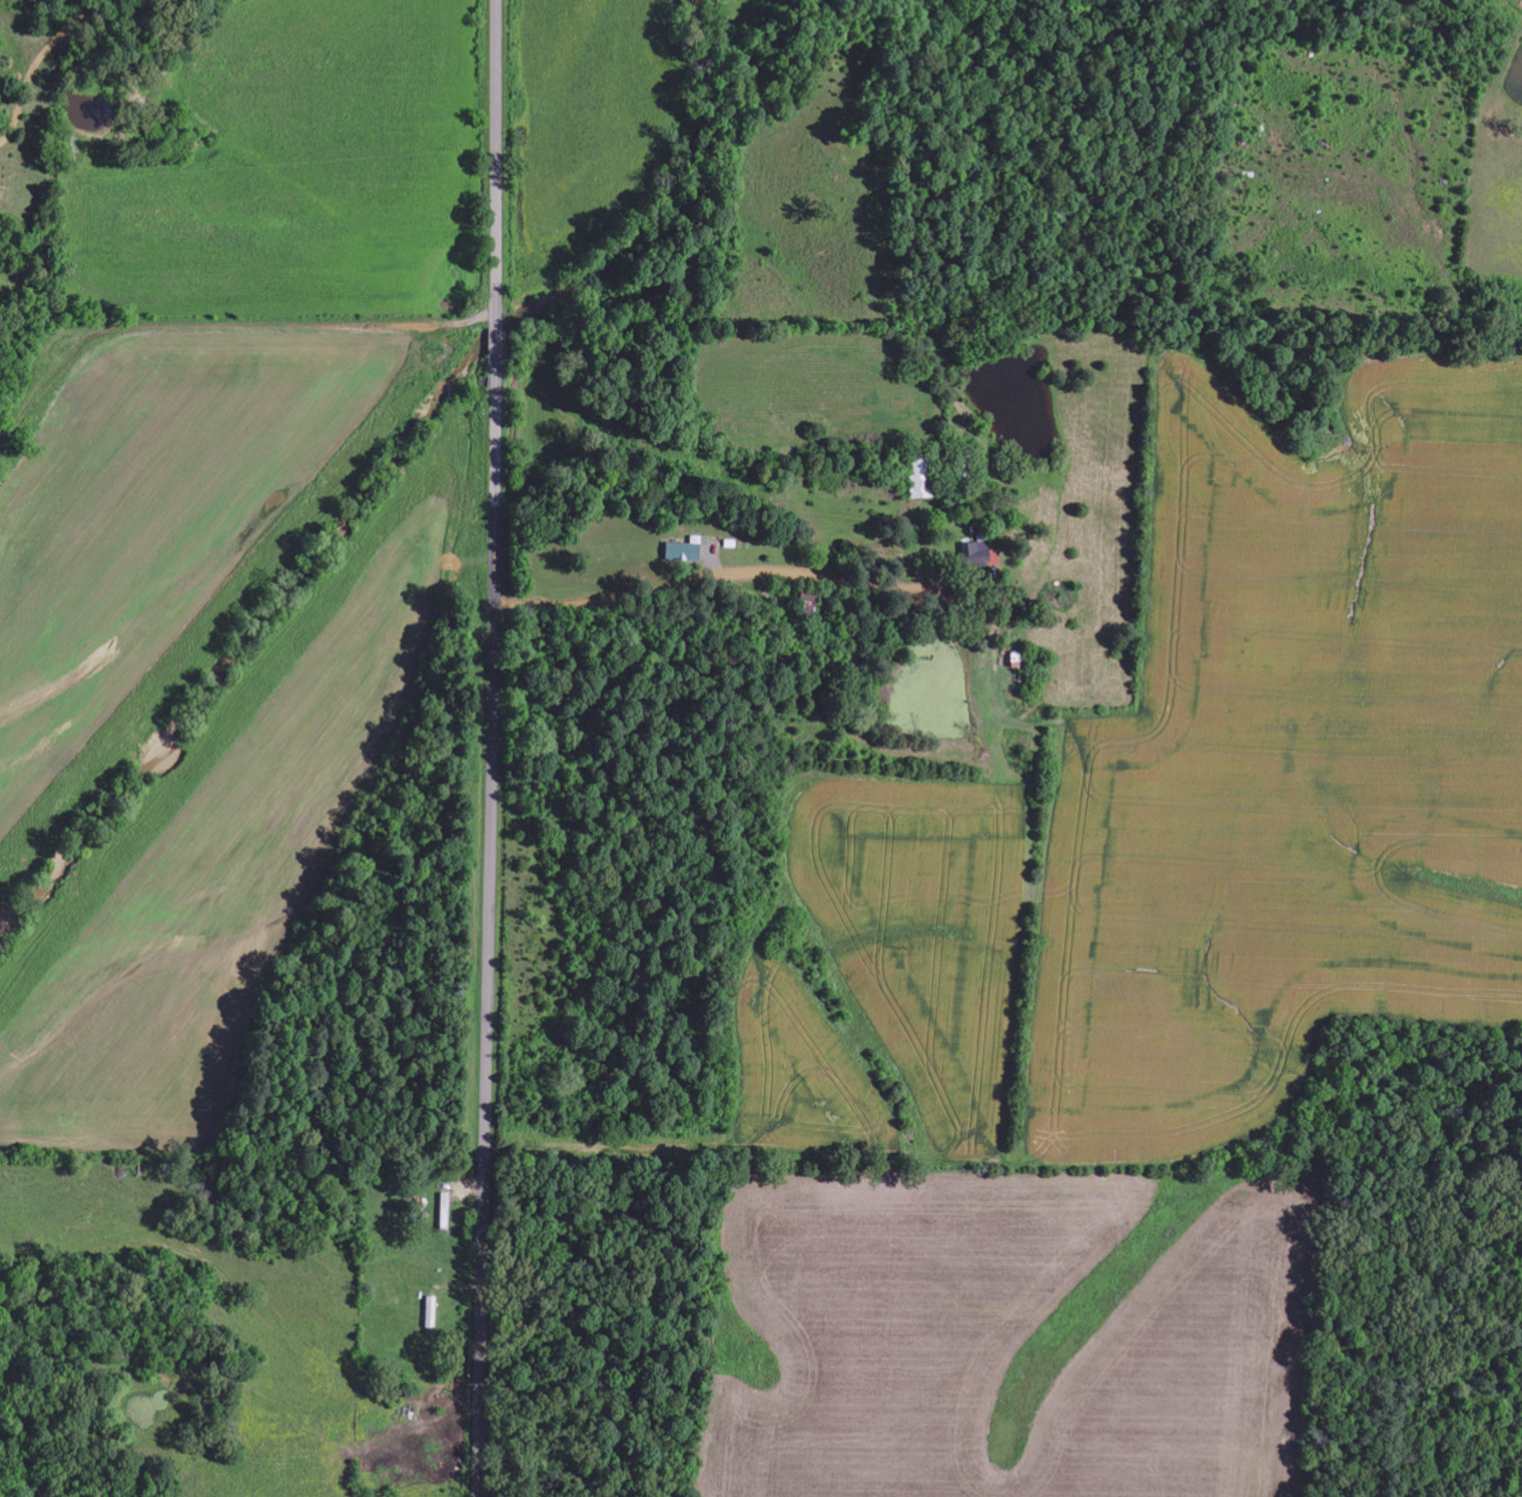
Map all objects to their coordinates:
road: (321, 265)
road: (100, 271)
building: (684, 552)
building: (981, 556)
road: (736, 574)
building: (810, 597)
road: (492, 748)

